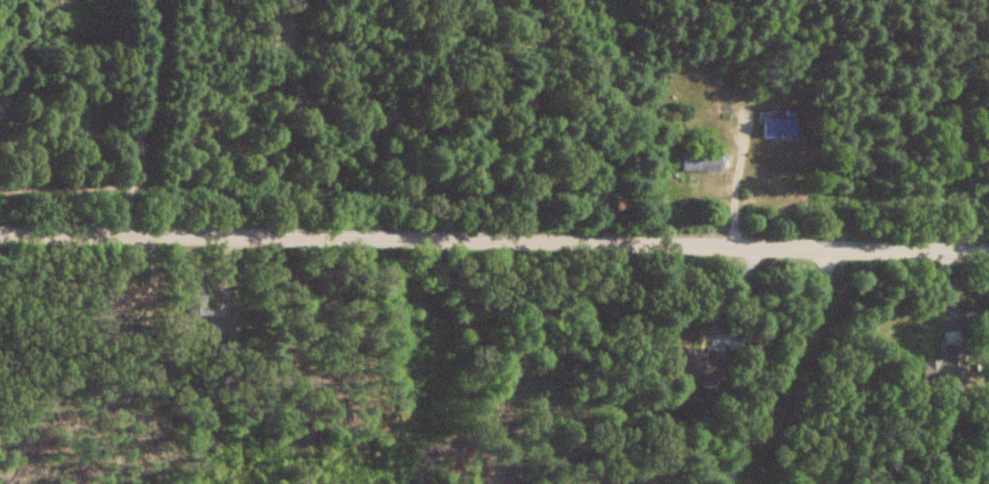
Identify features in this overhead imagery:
road: (137, 119)
building: (780, 127)
building: (701, 161)
road: (734, 191)
road: (494, 243)
building: (198, 302)
building: (698, 364)
building: (945, 365)
road: (782, 367)

